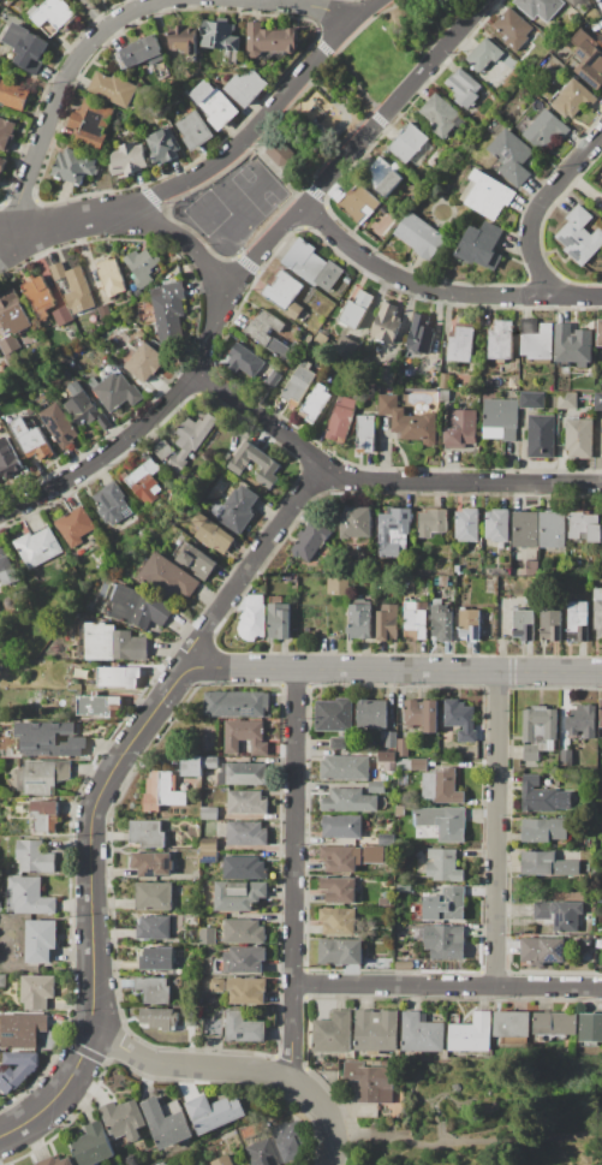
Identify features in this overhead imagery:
building: (7, 2)
building: (573, 2)
road: (311, 7)
building: (541, 8)
building: (53, 16)
building: (513, 29)
building: (219, 36)
building: (180, 40)
building: (269, 41)
building: (26, 48)
road: (323, 48)
building: (142, 52)
building: (484, 54)
building: (234, 58)
building: (586, 59)
building: (142, 65)
building: (0, 71)
building: (0, 75)
road: (353, 81)
building: (244, 88)
building: (463, 88)
building: (113, 89)
road: (59, 91)
building: (201, 91)
building: (13, 96)
building: (179, 96)
building: (573, 99)
road: (284, 108)
building: (186, 109)
building: (217, 109)
building: (442, 117)
road: (377, 119)
building: (90, 124)
park: (320, 125)
building: (193, 130)
building: (546, 130)
building: (6, 135)
building: (118, 136)
building: (407, 142)
building: (162, 145)
building: (424, 151)
building: (280, 154)
building: (435, 156)
building: (512, 156)
building: (129, 159)
building: (2, 164)
road: (210, 164)
building: (74, 166)
road: (274, 168)
building: (386, 177)
building: (600, 177)
road: (312, 189)
building: (485, 195)
road: (150, 196)
building: (359, 203)
road: (538, 207)
building: (383, 209)
road: (273, 218)
road: (5, 232)
building: (421, 236)
building: (579, 237)
road: (183, 242)
building: (479, 242)
road: (245, 263)
building: (142, 267)
road: (246, 269)
building: (58, 271)
building: (317, 271)
building: (111, 278)
building: (257, 286)
building: (78, 291)
building: (282, 291)
building: (137, 292)
road: (437, 292)
building: (38, 296)
building: (354, 308)
building: (165, 311)
building: (293, 311)
building: (105, 313)
building: (13, 314)
building: (61, 316)
building: (386, 325)
building: (529, 326)
building: (262, 327)
building: (600, 333)
building: (421, 334)
building: (118, 339)
building: (322, 340)
building: (500, 340)
building: (572, 344)
building: (10, 345)
building: (461, 345)
building: (538, 346)
building: (345, 347)
building: (284, 350)
building: (144, 361)
building: (243, 361)
building: (407, 373)
building: (386, 376)
building: (273, 379)
building: (445, 380)
building: (487, 382)
building: (298, 386)
building: (370, 386)
building: (115, 390)
building: (443, 397)
building: (531, 400)
building: (566, 400)
building: (598, 402)
building: (315, 404)
building: (387, 404)
building: (8, 406)
building: (81, 406)
building: (500, 414)
building: (2, 417)
building: (103, 422)
building: (341, 422)
building: (59, 426)
building: (415, 427)
building: (461, 429)
building: (193, 433)
building: (365, 434)
building: (508, 435)
building: (541, 436)
building: (30, 438)
building: (579, 439)
building: (601, 439)
building: (162, 450)
building: (10, 460)
building: (177, 462)
building: (254, 465)
building: (144, 483)
road: (381, 486)
building: (113, 504)
building: (239, 510)
building: (354, 523)
building: (431, 523)
building: (497, 524)
building: (467, 525)
building: (76, 527)
building: (584, 527)
building: (525, 530)
building: (552, 531)
building: (393, 533)
building: (213, 535)
building: (310, 541)
building: (37, 547)
building: (195, 560)
building: (102, 561)
road: (250, 565)
building: (6, 569)
building: (457, 570)
building: (167, 578)
building: (287, 578)
building: (442, 582)
building: (382, 583)
building: (435, 583)
building: (448, 584)
building: (338, 586)
building: (425, 590)
building: (125, 602)
building: (148, 613)
building: (161, 613)
building: (597, 613)
building: (252, 619)
building: (279, 619)
building: (359, 619)
building: (415, 620)
building: (441, 622)
building: (387, 623)
building: (578, 623)
building: (467, 624)
building: (524, 625)
building: (552, 626)
building: (101, 641)
building: (131, 646)
road: (393, 670)
building: (119, 677)
building: (236, 705)
building: (100, 706)
building: (372, 714)
building: (334, 715)
building: (421, 715)
building: (601, 717)
building: (460, 720)
building: (582, 723)
building: (204, 725)
building: (540, 727)
building: (442, 733)
building: (245, 737)
building: (46, 739)
building: (391, 739)
building: (339, 743)
building: (403, 748)
building: (531, 753)
building: (387, 757)
building: (566, 759)
building: (197, 763)
building: (404, 763)
building: (421, 763)
building: (345, 767)
building: (389, 767)
building: (246, 774)
building: (42, 777)
building: (439, 786)
building: (376, 787)
building: (169, 791)
building: (153, 795)
building: (536, 796)
building: (352, 801)
building: (16, 802)
building: (248, 803)
building: (601, 807)
building: (399, 810)
building: (222, 812)
building: (193, 813)
building: (209, 813)
building: (44, 816)
building: (442, 822)
building: (341, 827)
road: (496, 830)
building: (543, 830)
building: (147, 833)
building: (246, 833)
building: (386, 839)
building: (208, 844)
building: (208, 856)
building: (35, 857)
building: (340, 858)
building: (153, 864)
building: (443, 864)
building: (547, 864)
building: (244, 868)
road: (293, 875)
building: (403, 887)
building: (339, 888)
building: (238, 894)
building: (30, 896)
building: (154, 897)
building: (600, 899)
building: (385, 902)
building: (445, 905)
building: (0, 907)
road: (91, 907)
building: (559, 915)
building: (339, 921)
building: (154, 927)
building: (600, 931)
building: (244, 932)
building: (209, 937)
building: (41, 940)
building: (445, 941)
building: (586, 943)
building: (542, 951)
building: (340, 952)
building: (156, 959)
building: (242, 961)
building: (405, 965)
building: (600, 967)
building: (2, 981)
building: (217, 986)
road: (447, 986)
building: (154, 989)
building: (246, 991)
building: (37, 992)
building: (159, 1018)
building: (555, 1023)
building: (513, 1024)
building: (243, 1028)
building: (590, 1028)
building: (22, 1030)
building: (376, 1032)
building: (333, 1033)
building: (422, 1033)
building: (471, 1033)
building: (20, 1058)
building: (25, 1070)
building: (0, 1071)
road: (239, 1074)
building: (11, 1081)
building: (370, 1082)
road: (440, 1094)
road: (423, 1100)
building: (213, 1112)
park: (488, 1117)
building: (123, 1119)
building: (166, 1122)
building: (291, 1141)
road: (467, 1141)
building: (93, 1146)
road: (588, 1151)
building: (263, 1153)
building: (55, 1161)
building: (221, 1161)
building: (161, 1164)

